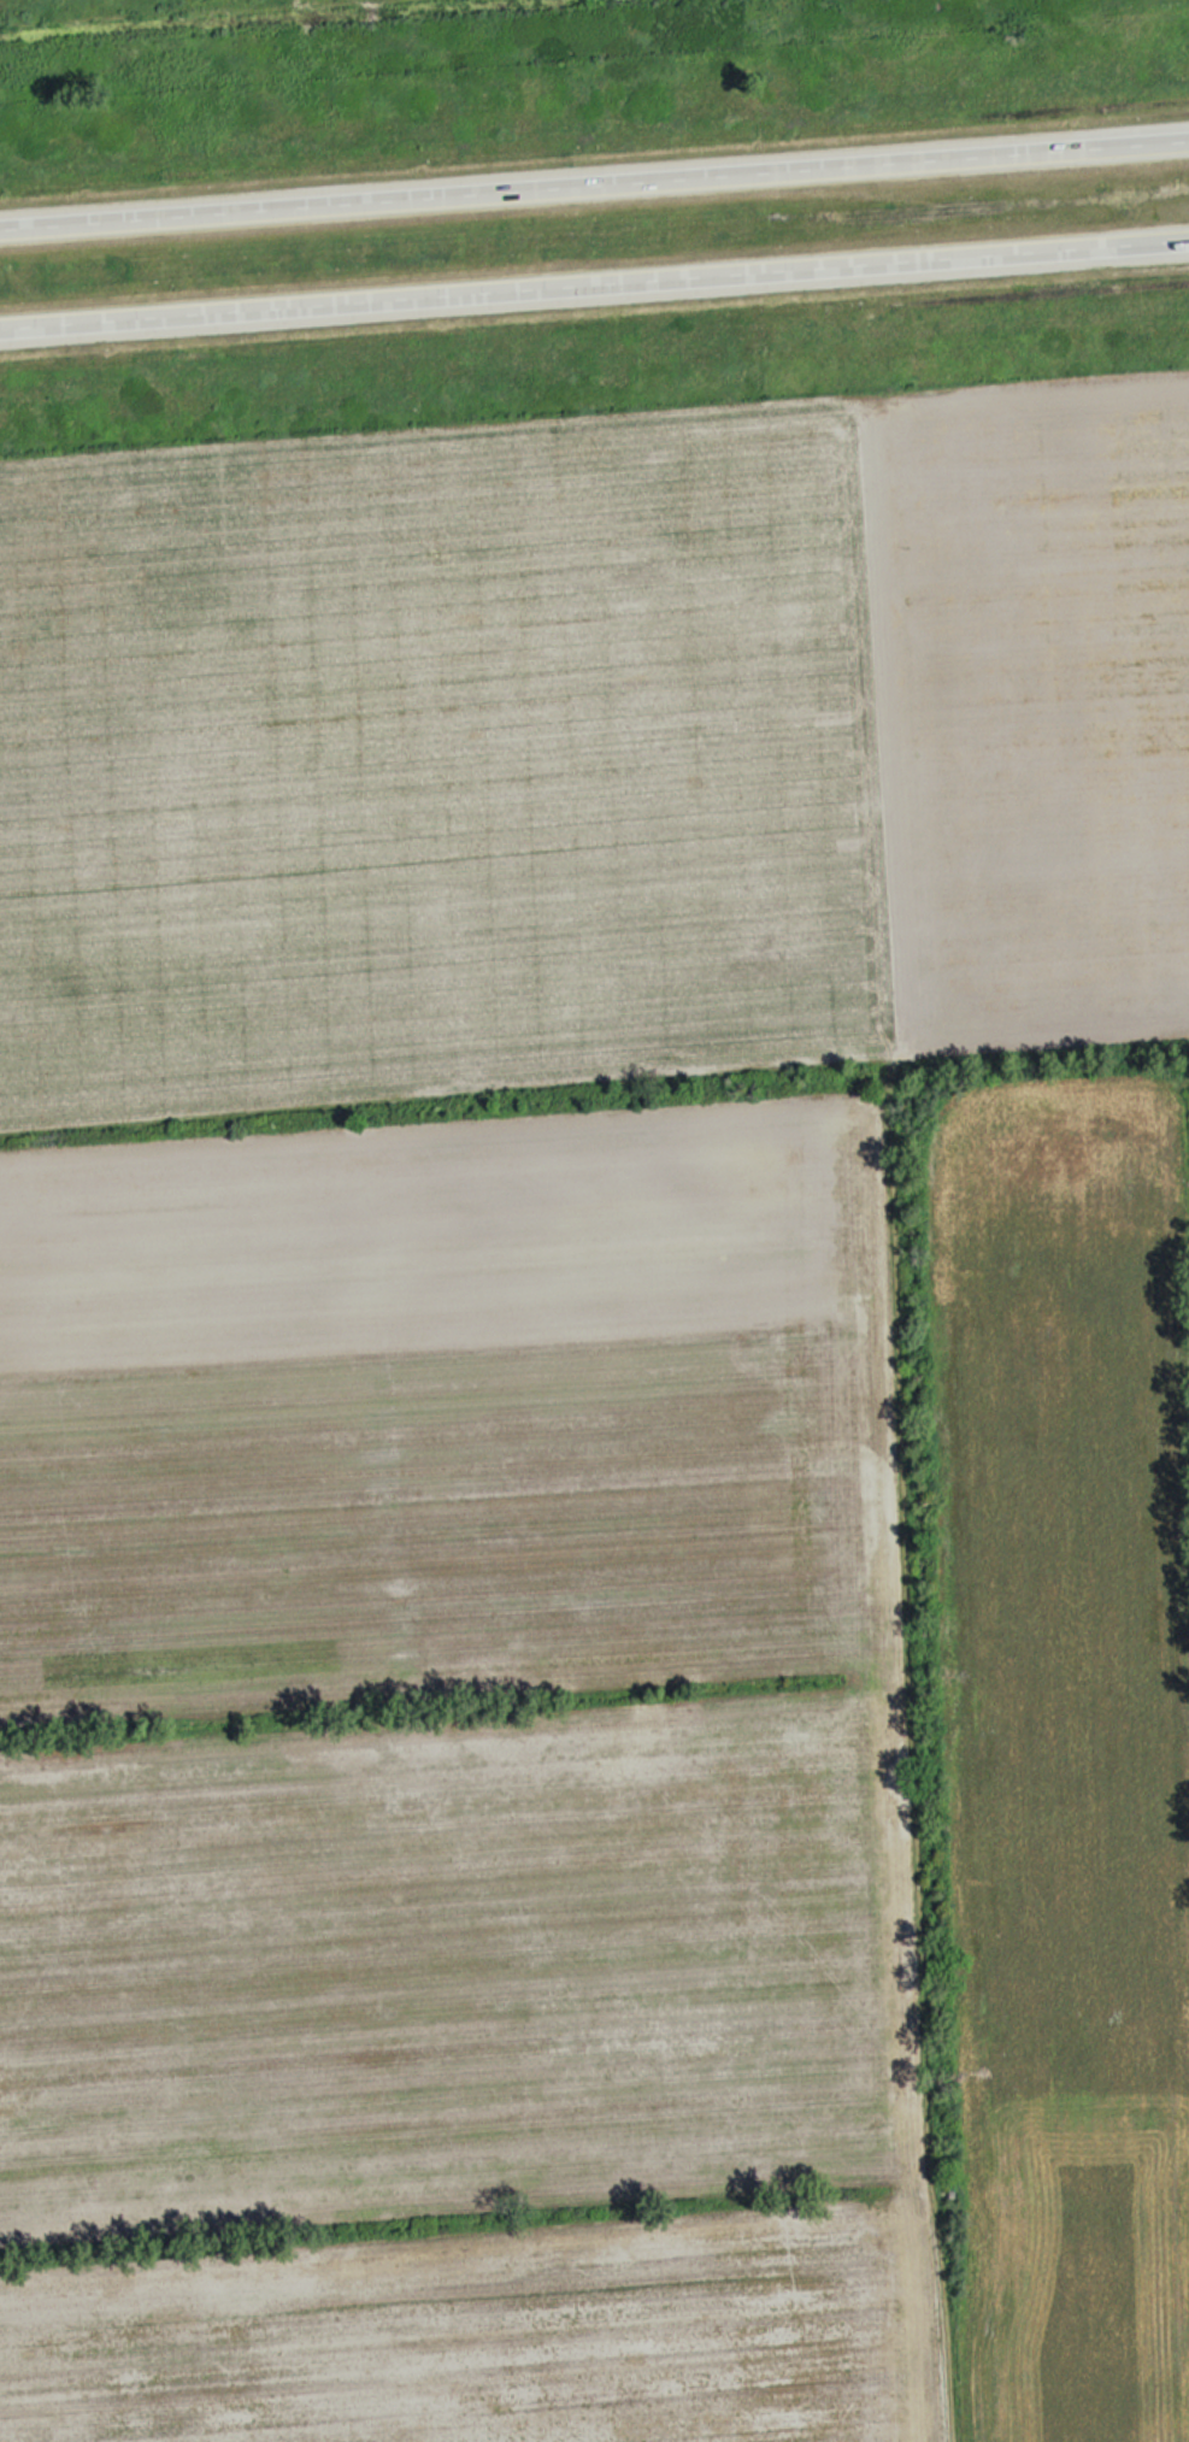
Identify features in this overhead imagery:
road: (594, 186)
road: (593, 261)

